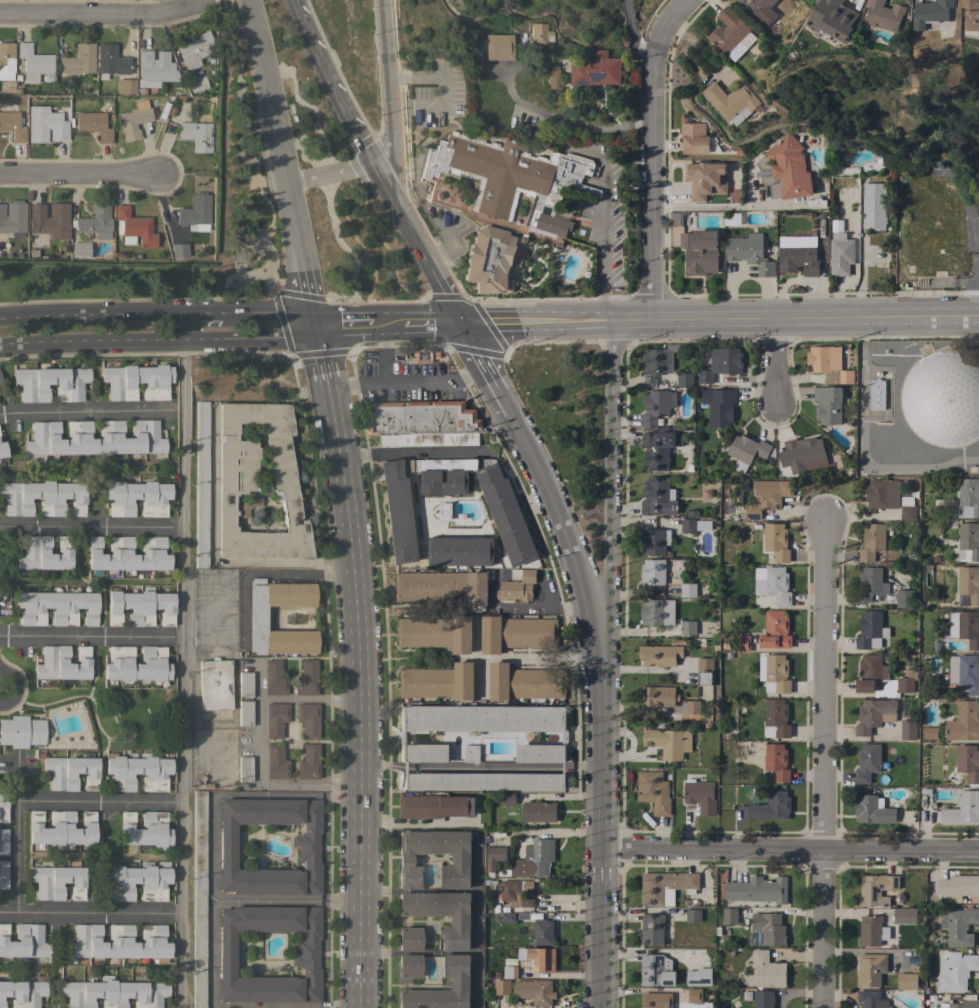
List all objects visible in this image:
building: (757, 6)
building: (971, 14)
building: (884, 15)
building: (931, 15)
road: (108, 17)
building: (833, 19)
building: (537, 34)
building: (731, 34)
road: (632, 36)
building: (498, 46)
building: (193, 50)
building: (6, 59)
building: (79, 59)
building: (110, 61)
building: (33, 62)
building: (156, 67)
building: (594, 70)
road: (441, 74)
building: (551, 75)
building: (197, 83)
road: (332, 83)
building: (126, 86)
road: (385, 87)
building: (732, 101)
building: (133, 120)
road: (567, 122)
building: (45, 125)
building: (94, 125)
building: (12, 126)
building: (196, 134)
building: (694, 138)
road: (654, 156)
road: (282, 162)
building: (788, 170)
road: (78, 174)
road: (330, 174)
building: (704, 180)
building: (504, 184)
building: (845, 196)
building: (873, 206)
road: (736, 208)
building: (195, 210)
building: (13, 219)
building: (50, 219)
building: (675, 219)
building: (96, 221)
building: (134, 228)
road: (603, 238)
road: (417, 244)
building: (80, 249)
building: (179, 249)
building: (699, 252)
building: (749, 253)
building: (798, 255)
building: (840, 257)
building: (489, 260)
road: (157, 314)
road: (795, 320)
road: (535, 323)
road: (387, 324)
traffic signals: (461, 324)
traffic signals: (314, 326)
road: (185, 328)
road: (158, 343)
road: (384, 353)
building: (421, 354)
road: (321, 360)
building: (657, 361)
road: (772, 362)
building: (720, 364)
building: (828, 365)
road: (484, 369)
road: (407, 380)
building: (684, 380)
building: (137, 381)
building: (70, 384)
building: (1, 387)
building: (876, 395)
building: (942, 397)
building: (828, 405)
building: (719, 406)
building: (657, 408)
road: (85, 410)
building: (420, 417)
building: (92, 438)
building: (427, 439)
road: (863, 443)
building: (657, 450)
building: (2, 451)
road: (414, 451)
building: (746, 451)
building: (807, 452)
building: (237, 483)
building: (202, 484)
road: (180, 489)
building: (882, 494)
building: (43, 497)
building: (137, 497)
building: (657, 497)
building: (766, 497)
building: (968, 499)
building: (248, 505)
building: (444, 511)
building: (907, 513)
road: (611, 523)
building: (693, 526)
road: (90, 527)
building: (511, 527)
building: (653, 541)
building: (872, 542)
building: (968, 542)
building: (775, 544)
building: (460, 552)
building: (44, 553)
building: (128, 553)
road: (285, 562)
road: (574, 563)
road: (266, 572)
building: (652, 572)
building: (870, 584)
building: (517, 586)
building: (778, 586)
building: (968, 586)
building: (443, 587)
building: (687, 590)
building: (904, 599)
road: (538, 604)
building: (56, 607)
building: (140, 607)
building: (657, 612)
building: (257, 617)
building: (965, 627)
building: (690, 628)
building: (775, 630)
building: (870, 631)
building: (436, 633)
building: (517, 633)
road: (90, 636)
building: (742, 644)
building: (659, 655)
road: (525, 657)
road: (246, 662)
building: (63, 663)
building: (136, 664)
building: (704, 670)
building: (965, 672)
building: (870, 673)
building: (774, 674)
building: (274, 678)
building: (307, 678)
building: (437, 682)
building: (524, 683)
building: (215, 684)
building: (245, 684)
building: (898, 685)
building: (659, 697)
road: (308, 699)
road: (359, 700)
building: (692, 707)
road: (234, 709)
building: (245, 712)
building: (874, 715)
building: (276, 718)
building: (308, 718)
building: (481, 718)
road: (179, 719)
building: (776, 720)
building: (963, 722)
road: (258, 726)
building: (908, 730)
building: (22, 731)
building: (928, 733)
building: (668, 743)
building: (424, 753)
building: (471, 753)
building: (539, 753)
building: (276, 761)
building: (309, 762)
building: (777, 762)
building: (867, 762)
building: (968, 763)
road: (379, 764)
road: (401, 765)
road: (582, 765)
road: (821, 765)
road: (430, 766)
road: (524, 767)
road: (562, 767)
building: (245, 768)
building: (70, 771)
building: (137, 772)
building: (483, 781)
road: (314, 785)
road: (599, 786)
building: (653, 792)
building: (700, 795)
building: (508, 798)
road: (97, 802)
building: (432, 806)
building: (3, 807)
building: (771, 807)
building: (873, 810)
building: (963, 810)
building: (539, 812)
road: (415, 824)
building: (61, 828)
building: (145, 830)
road: (550, 833)
road: (16, 835)
building: (3, 840)
road: (788, 850)
building: (308, 853)
building: (495, 857)
road: (178, 858)
building: (535, 859)
building: (461, 860)
building: (3, 874)
building: (138, 880)
building: (58, 881)
building: (665, 887)
building: (957, 887)
building: (758, 890)
building: (876, 890)
building: (516, 892)
building: (199, 898)
road: (210, 900)
road: (284, 900)
road: (89, 913)
building: (441, 914)
building: (693, 916)
building: (729, 916)
building: (904, 916)
building: (508, 917)
building: (959, 926)
road: (598, 927)
building: (654, 930)
building: (766, 930)
building: (871, 931)
building: (543, 932)
building: (409, 939)
building: (24, 941)
building: (119, 942)
road: (651, 951)
building: (305, 959)
building: (537, 959)
road: (177, 960)
building: (408, 967)
building: (870, 970)
building: (956, 970)
building: (656, 971)
building: (765, 971)
building: (510, 972)
building: (698, 977)
building: (907, 981)
building: (461, 983)
building: (502, 987)
building: (534, 991)
building: (23, 992)
building: (113, 993)
building: (694, 996)
building: (763, 999)
building: (870, 999)
building: (656, 1000)
building: (962, 1004)

